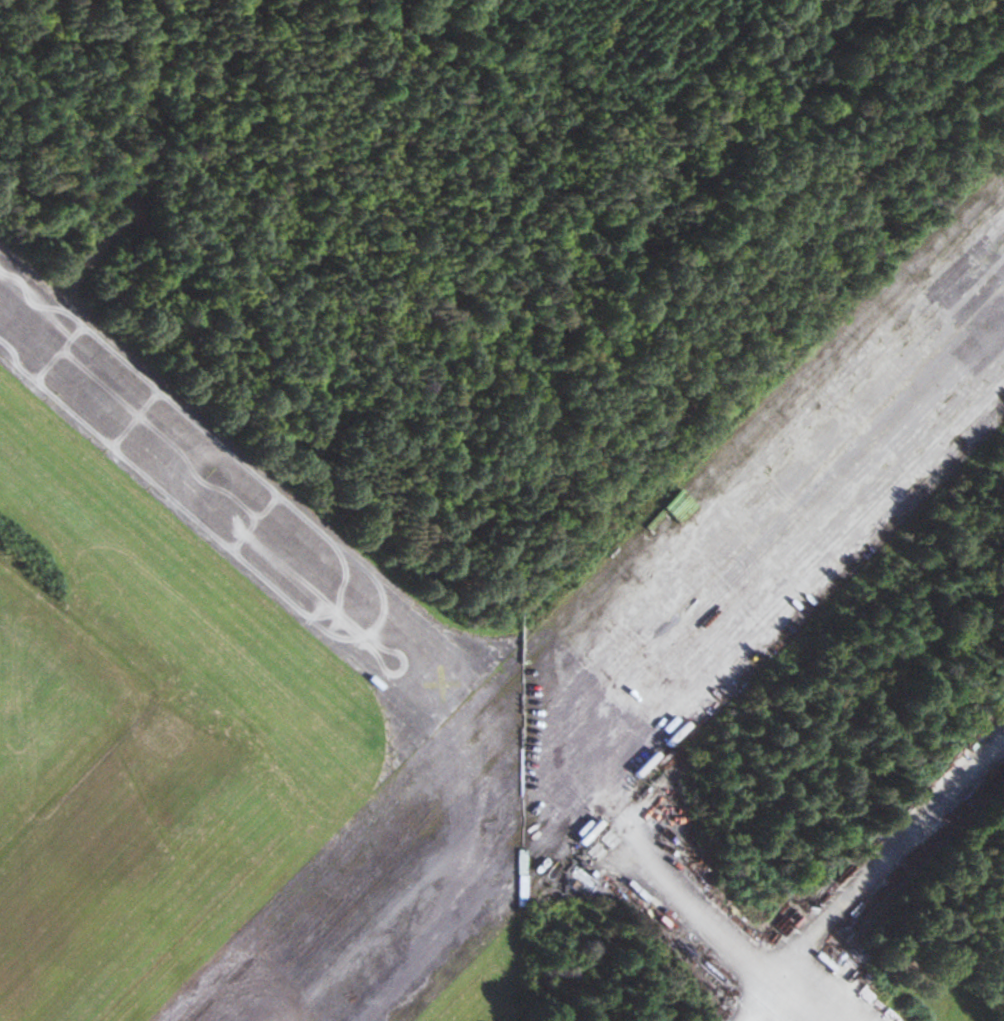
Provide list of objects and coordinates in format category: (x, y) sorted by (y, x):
airport: (450, 470)

